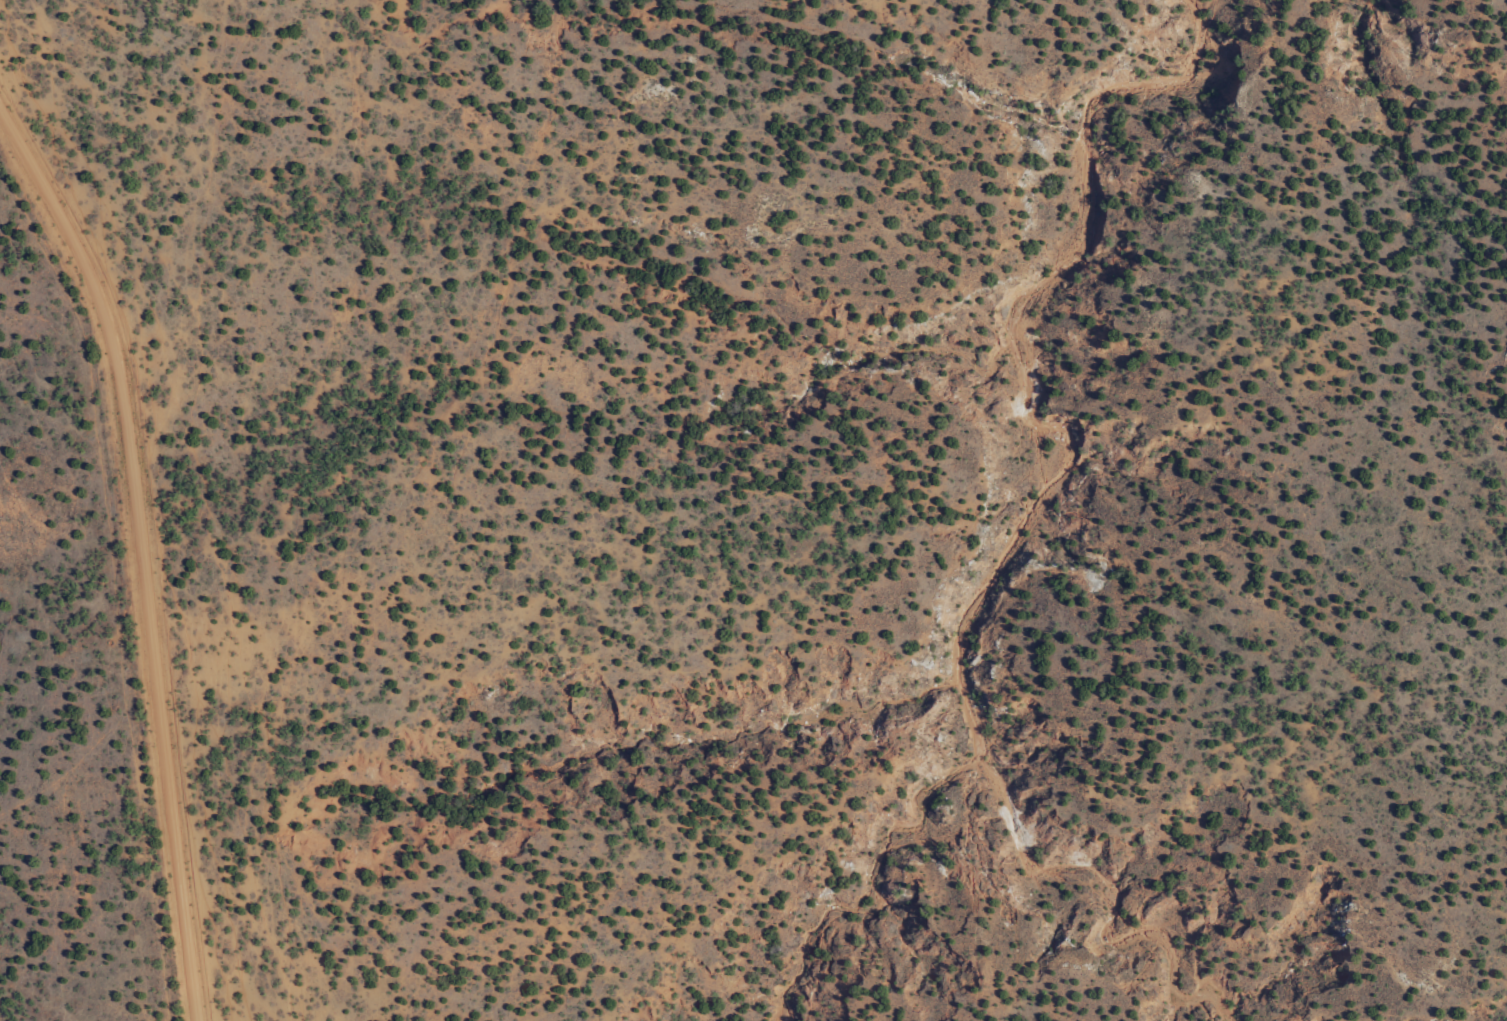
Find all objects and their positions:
road: (106, 552)

